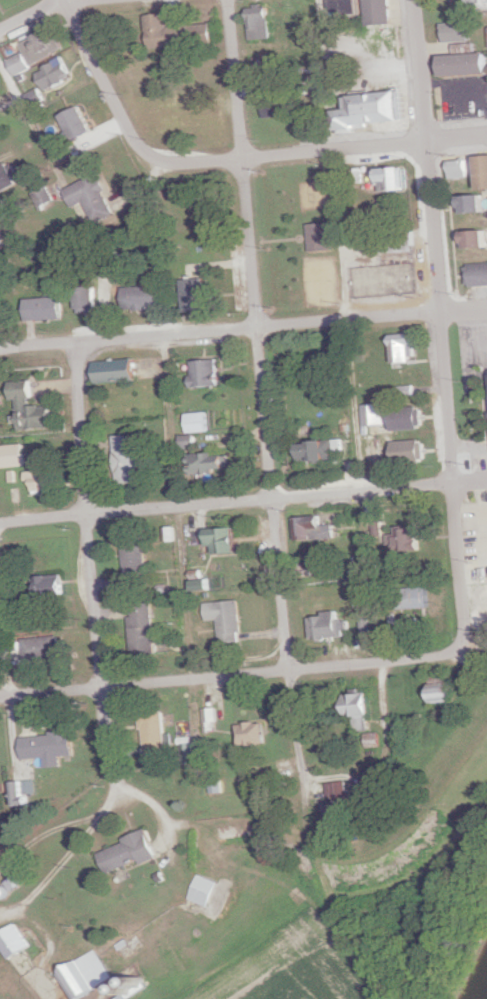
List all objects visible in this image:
building: (478, 5)
building: (349, 7)
building: (377, 10)
road: (30, 14)
building: (260, 23)
building: (457, 32)
building: (177, 34)
building: (42, 43)
building: (264, 62)
building: (19, 64)
building: (466, 65)
building: (53, 74)
building: (279, 107)
road: (24, 109)
building: (375, 111)
building: (75, 124)
building: (170, 129)
road: (226, 159)
building: (454, 167)
building: (479, 171)
building: (5, 178)
building: (394, 180)
building: (91, 198)
building: (467, 202)
park: (293, 238)
building: (315, 238)
building: (470, 238)
building: (399, 241)
building: (1, 244)
building: (397, 273)
building: (475, 273)
park: (381, 282)
park: (318, 285)
building: (194, 294)
building: (143, 296)
building: (85, 300)
building: (44, 309)
building: (2, 313)
road: (243, 330)
road: (347, 330)
road: (439, 330)
building: (406, 346)
building: (118, 370)
building: (206, 372)
building: (34, 406)
building: (373, 412)
road: (262, 413)
building: (408, 416)
building: (198, 421)
building: (190, 443)
building: (319, 449)
building: (412, 449)
building: (17, 454)
building: (131, 457)
building: (214, 461)
building: (45, 478)
road: (243, 500)
road: (179, 505)
building: (316, 527)
building: (406, 538)
building: (228, 539)
building: (318, 562)
road: (94, 563)
building: (140, 563)
building: (55, 584)
building: (361, 585)
building: (414, 596)
building: (0, 618)
building: (228, 618)
building: (365, 620)
building: (327, 624)
building: (147, 627)
road: (6, 628)
building: (47, 647)
road: (467, 664)
road: (224, 675)
building: (444, 686)
building: (360, 709)
building: (251, 732)
building: (162, 733)
building: (373, 739)
building: (53, 745)
building: (192, 752)
building: (338, 788)
building: (337, 814)
road: (61, 825)
building: (135, 851)
road: (67, 858)
building: (206, 889)
road: (41, 924)
building: (16, 941)
building: (87, 975)
road: (41, 980)
building: (123, 996)

